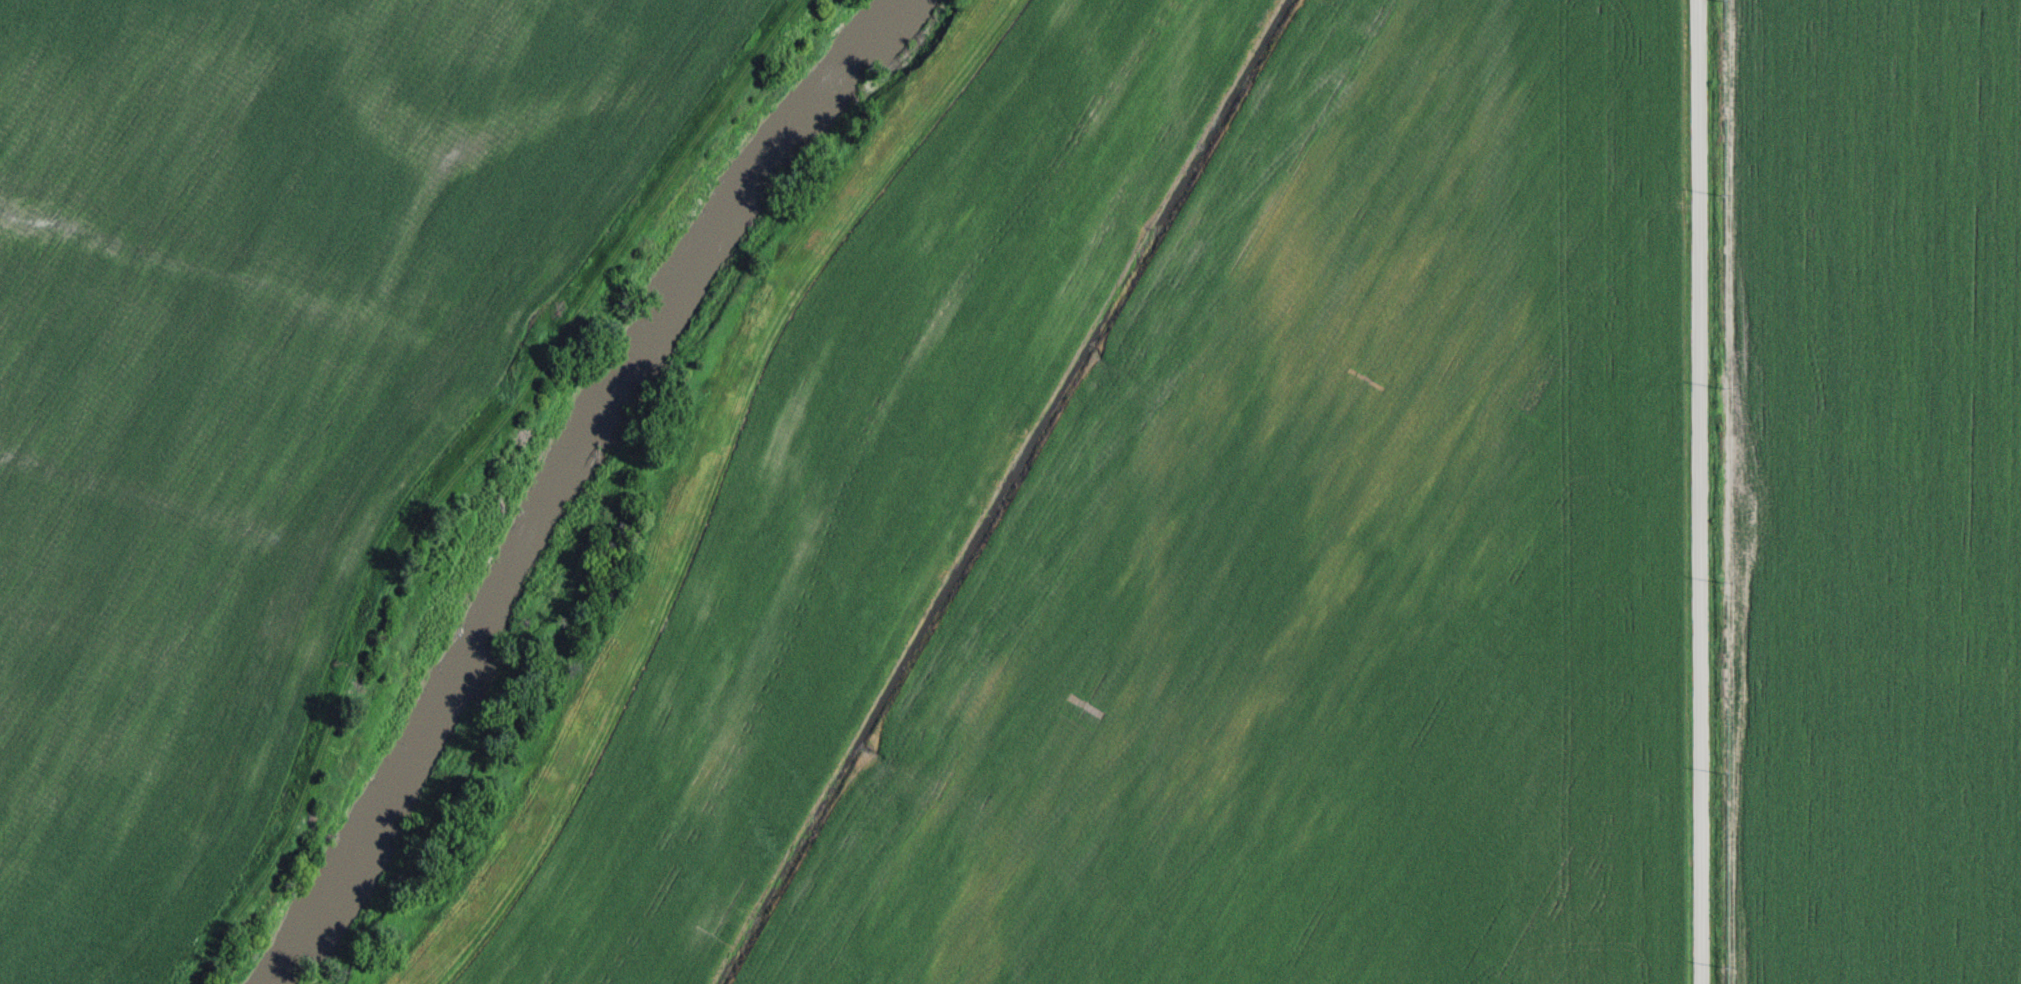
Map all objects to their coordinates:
river: (558, 475)
road: (1695, 492)

